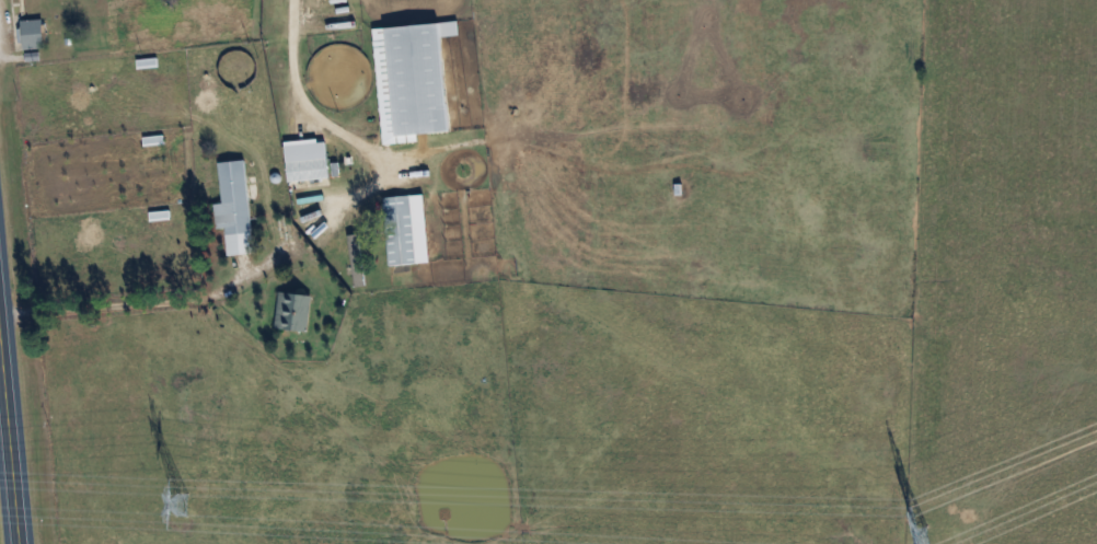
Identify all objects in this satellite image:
building: (30, 3)
building: (34, 33)
building: (411, 80)
road: (308, 102)
building: (308, 167)
building: (233, 197)
building: (406, 228)
road: (218, 290)
building: (293, 310)
road: (10, 409)
power tower: (181, 502)
power tower: (923, 539)

